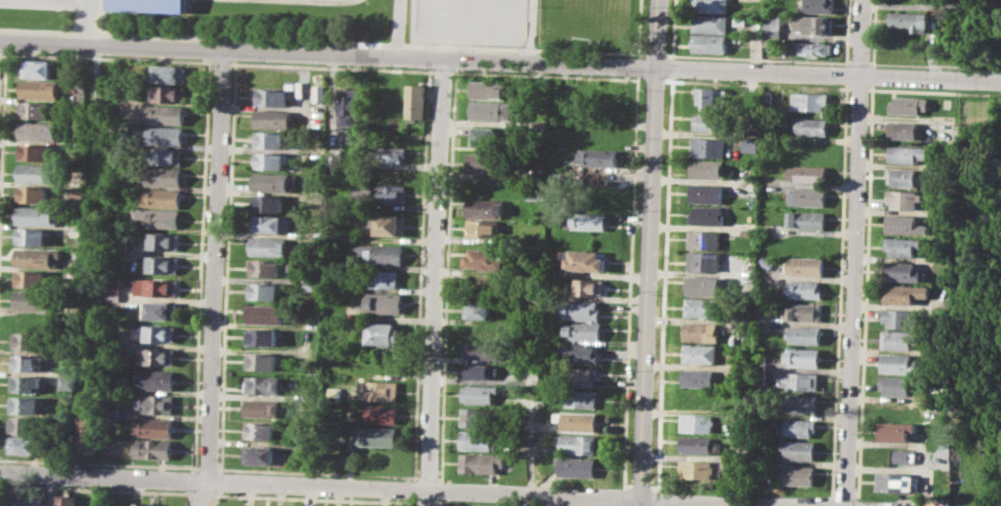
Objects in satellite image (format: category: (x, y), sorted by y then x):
road: (59, 1)
building: (956, 4)
building: (148, 5)
building: (713, 5)
building: (821, 5)
road: (86, 21)
building: (912, 21)
parking lot: (472, 22)
building: (712, 23)
building: (741, 23)
building: (774, 23)
building: (815, 24)
road: (398, 27)
road: (641, 28)
road: (532, 31)
road: (229, 38)
building: (711, 43)
building: (809, 48)
road: (536, 51)
road: (500, 61)
road: (640, 65)
building: (37, 67)
building: (170, 74)
building: (39, 88)
building: (490, 89)
building: (166, 93)
building: (318, 93)
building: (272, 97)
building: (713, 97)
building: (769, 98)
building: (415, 99)
building: (396, 101)
building: (812, 101)
building: (909, 105)
building: (348, 108)
building: (35, 109)
building: (492, 110)
building: (166, 114)
building: (274, 118)
building: (713, 122)
building: (813, 126)
building: (905, 128)
building: (945, 128)
building: (38, 131)
building: (165, 135)
building: (491, 136)
building: (270, 138)
building: (753, 144)
building: (709, 147)
building: (812, 150)
building: (36, 152)
building: (908, 153)
building: (166, 155)
building: (392, 157)
building: (600, 157)
building: (335, 159)
building: (270, 160)
building: (488, 164)
building: (710, 169)
building: (37, 173)
building: (808, 174)
building: (164, 177)
building: (902, 177)
building: (273, 182)
building: (751, 186)
building: (708, 192)
building: (32, 193)
building: (381, 193)
building: (536, 193)
building: (75, 195)
building: (809, 196)
building: (161, 198)
building: (903, 198)
building: (268, 203)
building: (487, 208)
building: (37, 215)
building: (708, 215)
building: (158, 217)
building: (589, 220)
building: (805, 220)
building: (271, 223)
building: (904, 225)
building: (390, 226)
building: (484, 228)
building: (750, 232)
building: (31, 235)
building: (708, 239)
building: (164, 241)
building: (903, 245)
building: (269, 246)
road: (651, 252)
building: (380, 253)
road: (855, 253)
building: (36, 257)
building: (487, 259)
building: (586, 261)
building: (705, 261)
building: (767, 262)
building: (161, 264)
road: (215, 265)
building: (805, 266)
building: (269, 267)
building: (900, 271)
building: (29, 278)
building: (382, 279)
road: (631, 281)
road: (437, 282)
building: (706, 286)
building: (113, 287)
building: (156, 287)
building: (589, 287)
building: (266, 290)
building: (805, 290)
building: (904, 293)
building: (30, 299)
building: (385, 302)
building: (706, 307)
building: (480, 309)
building: (161, 310)
building: (584, 310)
building: (804, 311)
building: (266, 313)
building: (67, 316)
building: (765, 318)
building: (901, 319)
building: (586, 330)
building: (705, 332)
building: (158, 333)
building: (383, 333)
building: (804, 335)
building: (263, 336)
building: (899, 339)
building: (25, 340)
building: (483, 350)
building: (582, 353)
building: (703, 353)
building: (159, 356)
building: (803, 357)
building: (262, 361)
building: (30, 362)
building: (898, 363)
building: (478, 371)
building: (68, 376)
building: (583, 376)
building: (701, 377)
building: (155, 379)
building: (800, 380)
building: (25, 384)
building: (264, 385)
building: (898, 385)
building: (380, 390)
building: (479, 394)
building: (583, 398)
building: (701, 399)
building: (155, 403)
building: (803, 403)
building: (25, 404)
building: (264, 407)
building: (381, 414)
building: (481, 416)
building: (579, 420)
building: (700, 423)
building: (24, 425)
building: (797, 426)
building: (153, 428)
road: (531, 428)
building: (259, 430)
building: (894, 430)
building: (88, 433)
building: (378, 436)
building: (480, 439)
building: (580, 443)
building: (23, 445)
building: (702, 445)
building: (152, 449)
building: (799, 449)
building: (259, 454)
building: (902, 456)
building: (482, 462)
building: (576, 466)
building: (698, 469)
building: (800, 475)
building: (895, 482)
road: (422, 488)
road: (198, 493)
road: (624, 496)
building: (65, 500)
building: (91, 501)
building: (16, 502)
building: (35, 502)
building: (143, 503)
road: (622, 505)
road: (852, 505)

